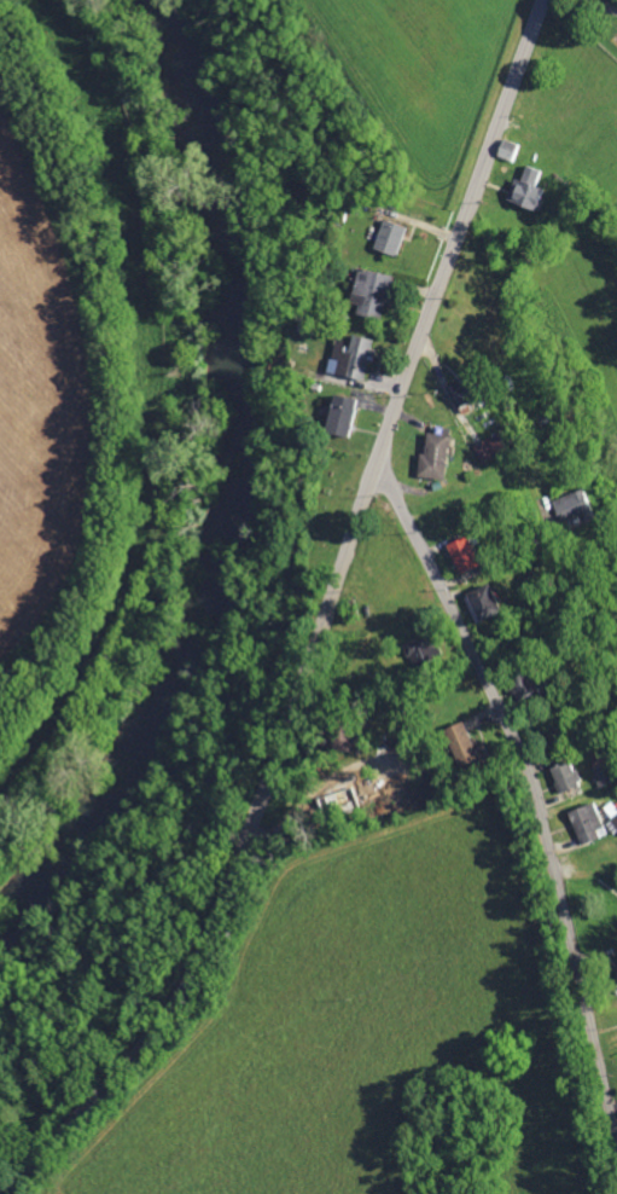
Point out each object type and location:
building: (525, 190)
building: (389, 237)
river: (252, 272)
building: (369, 294)
building: (353, 359)
building: (460, 394)
building: (339, 416)
building: (433, 457)
building: (574, 505)
building: (464, 555)
road: (505, 557)
building: (484, 603)
road: (324, 622)
building: (418, 649)
building: (464, 747)
building: (606, 776)
building: (565, 777)
road: (535, 790)
building: (351, 792)
building: (613, 810)
building: (587, 823)

